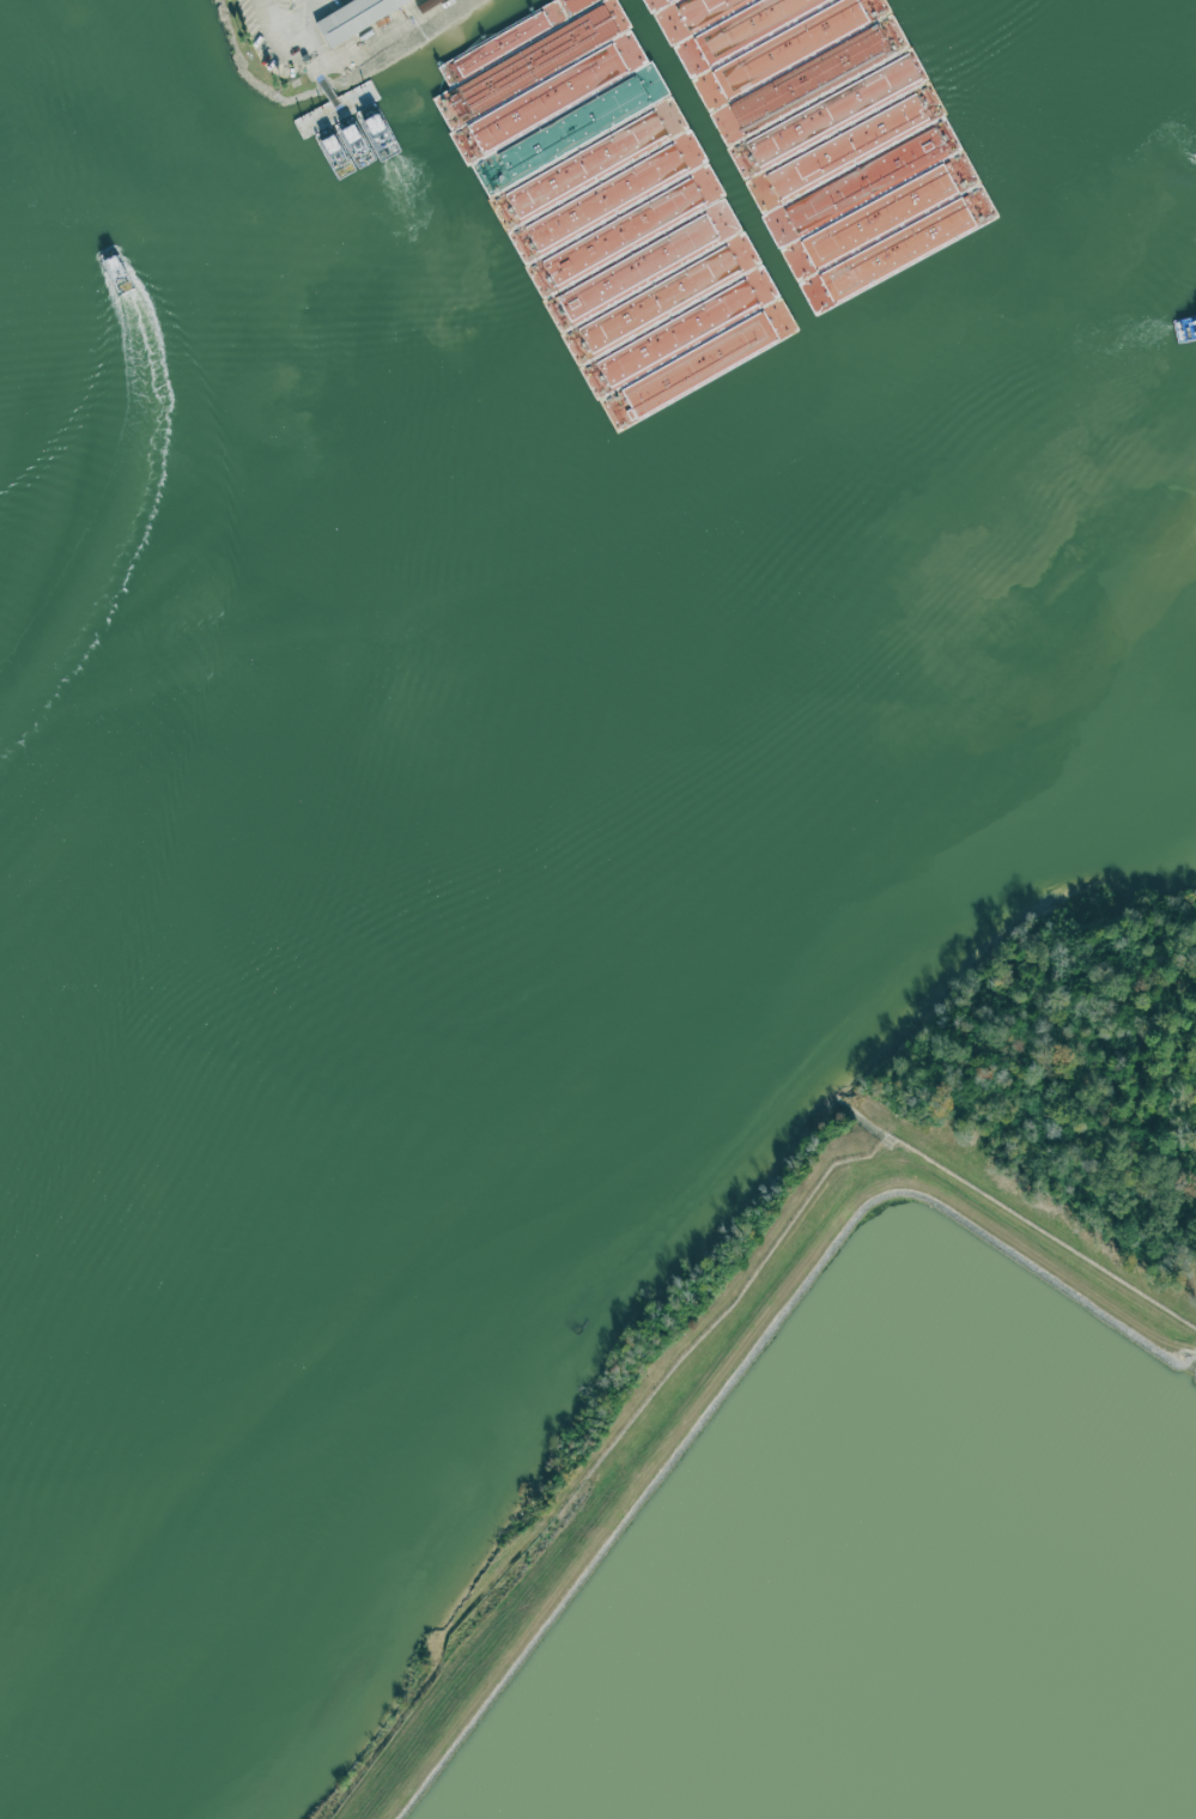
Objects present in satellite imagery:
building: (351, 16)
road: (284, 29)
river: (578, 633)

